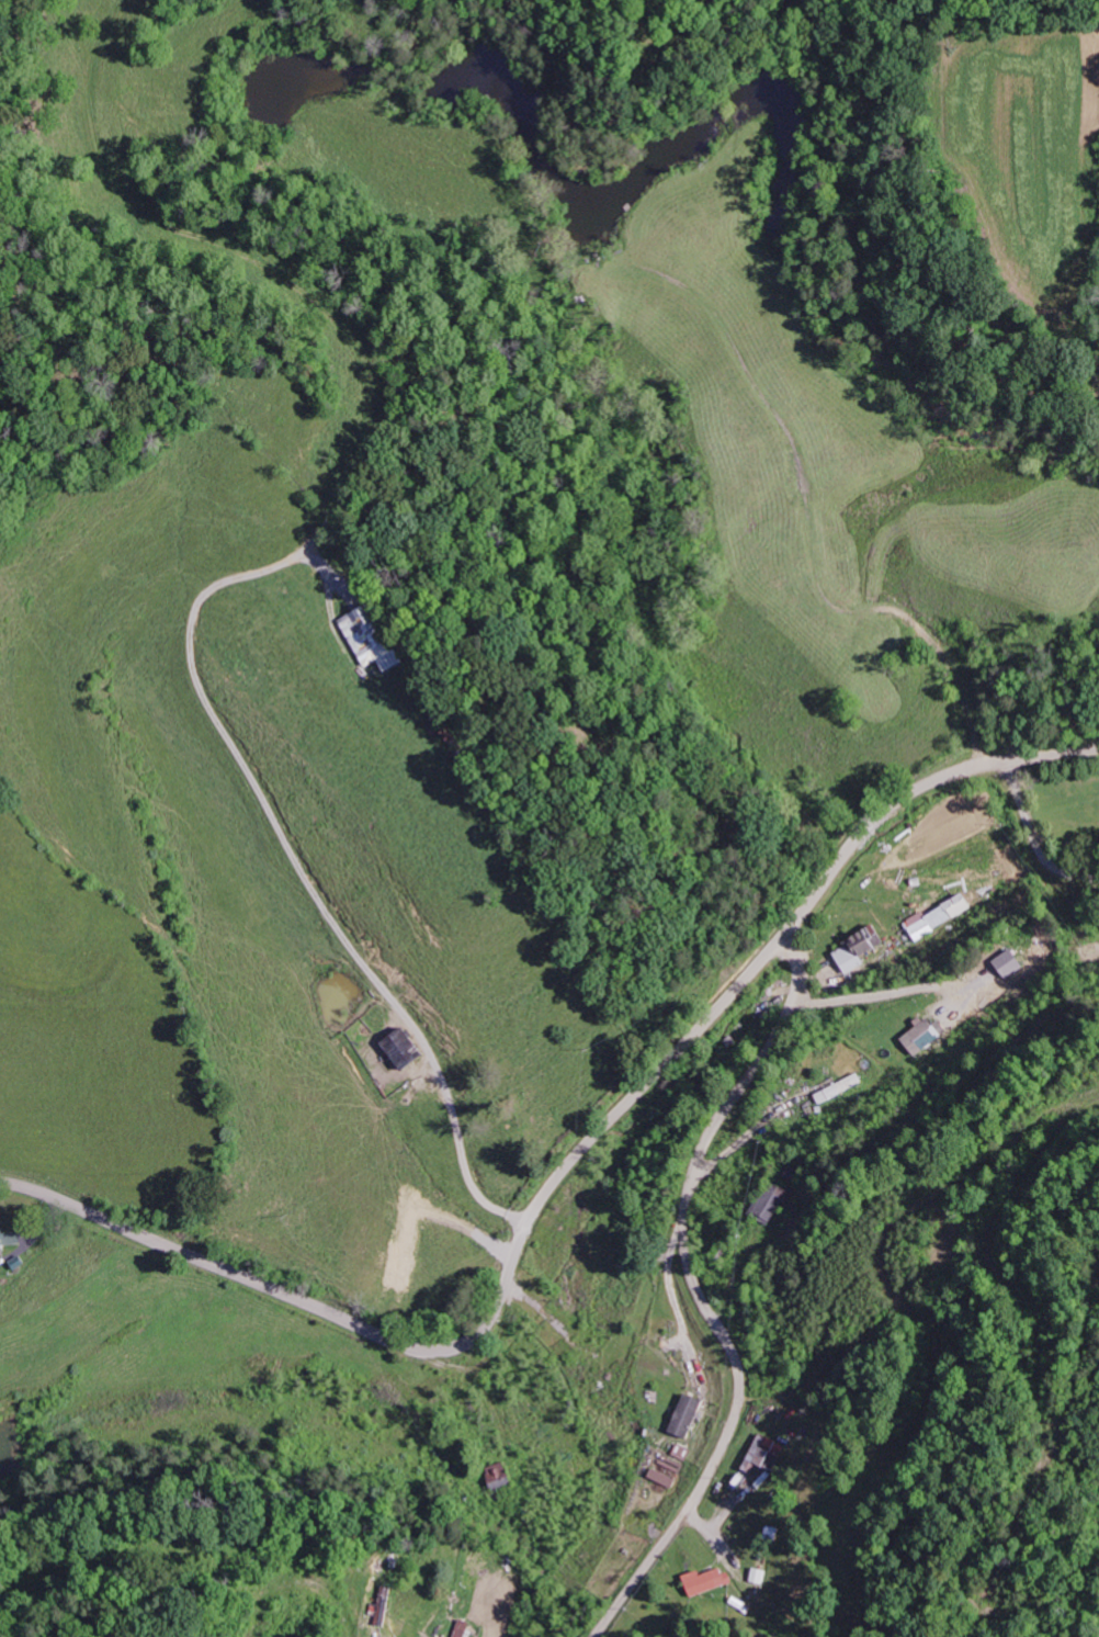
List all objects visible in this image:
building: (366, 632)
building: (941, 915)
building: (861, 948)
building: (924, 1036)
building: (407, 1048)
building: (840, 1087)
road: (565, 1167)
building: (771, 1203)
building: (10, 1237)
building: (0, 1257)
road: (699, 1290)
building: (689, 1415)
building: (766, 1453)
building: (501, 1472)
building: (665, 1477)
building: (759, 1574)
building: (706, 1581)
building: (385, 1606)
building: (467, 1628)

